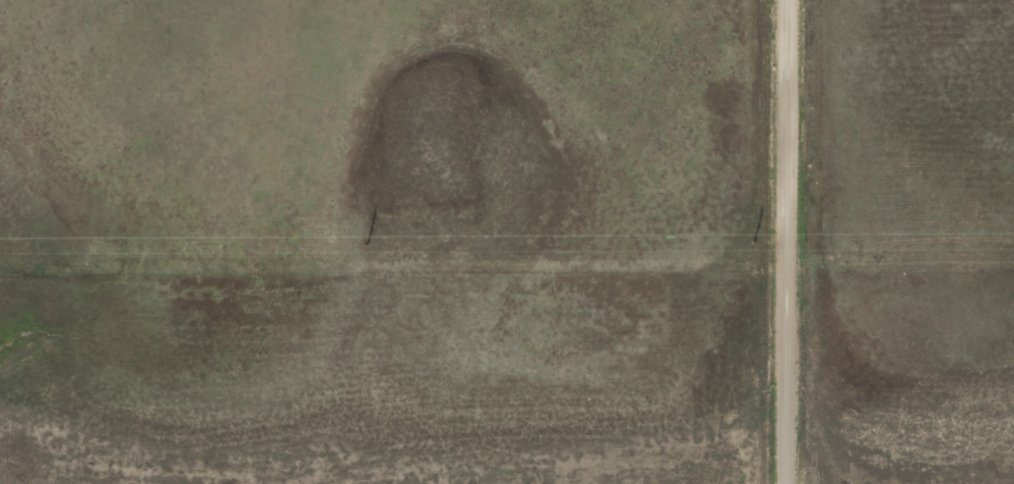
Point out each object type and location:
road: (789, 241)
power tower: (754, 242)
power tower: (366, 243)

